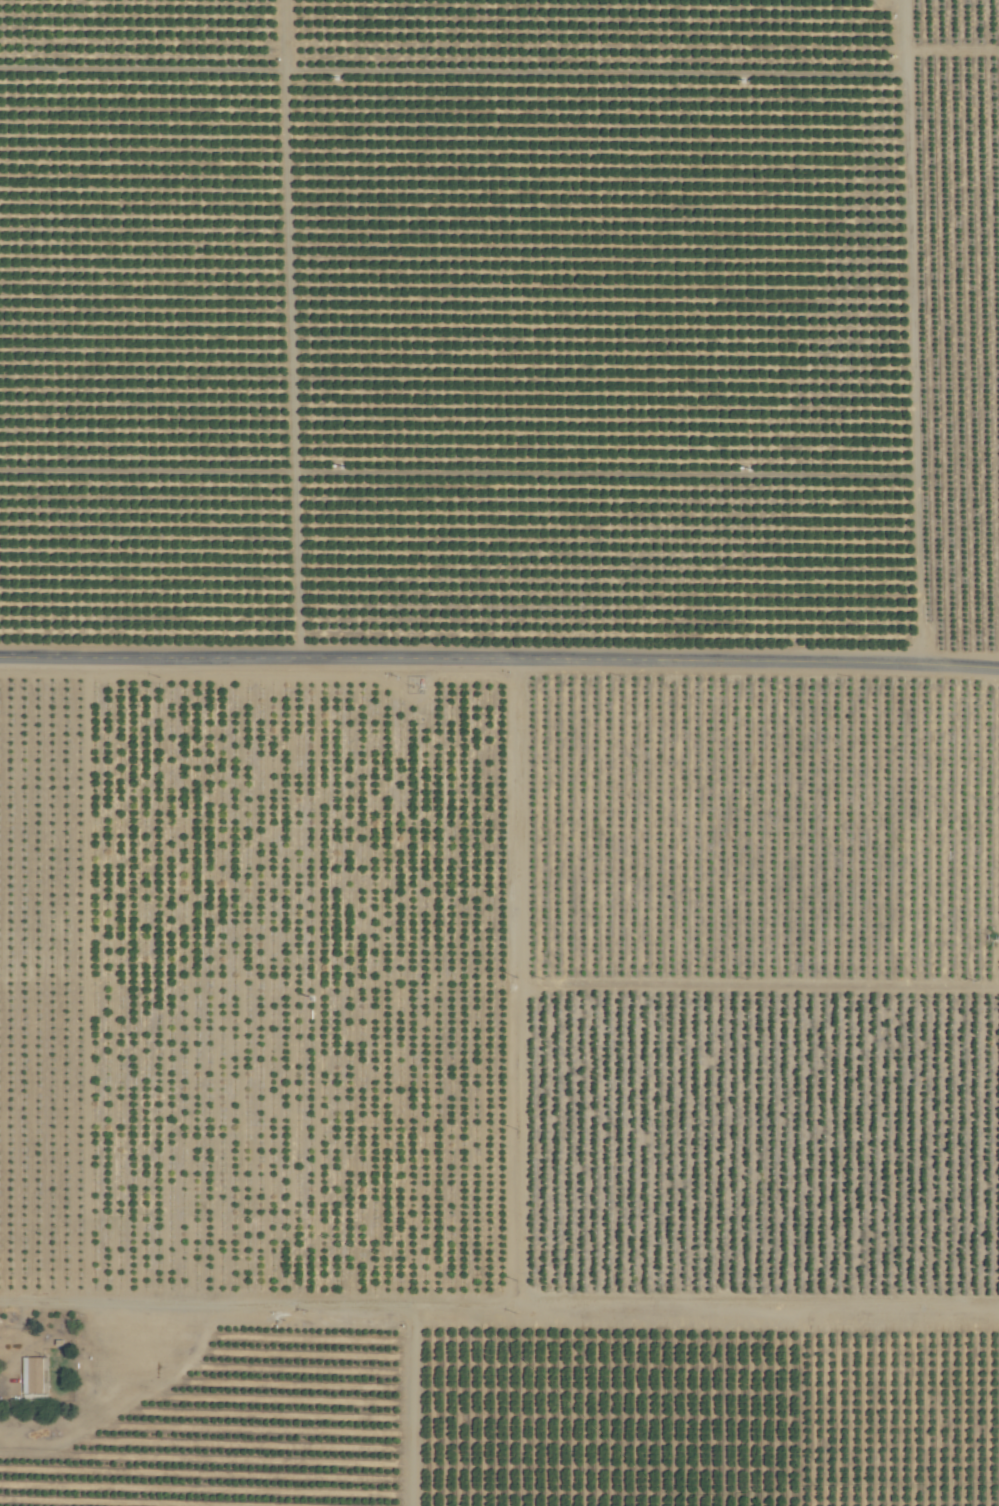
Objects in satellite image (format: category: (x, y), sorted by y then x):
road: (912, 332)
road: (499, 659)
crop: (499, 753)
road: (597, 985)
road: (593, 1312)
building: (34, 1375)

